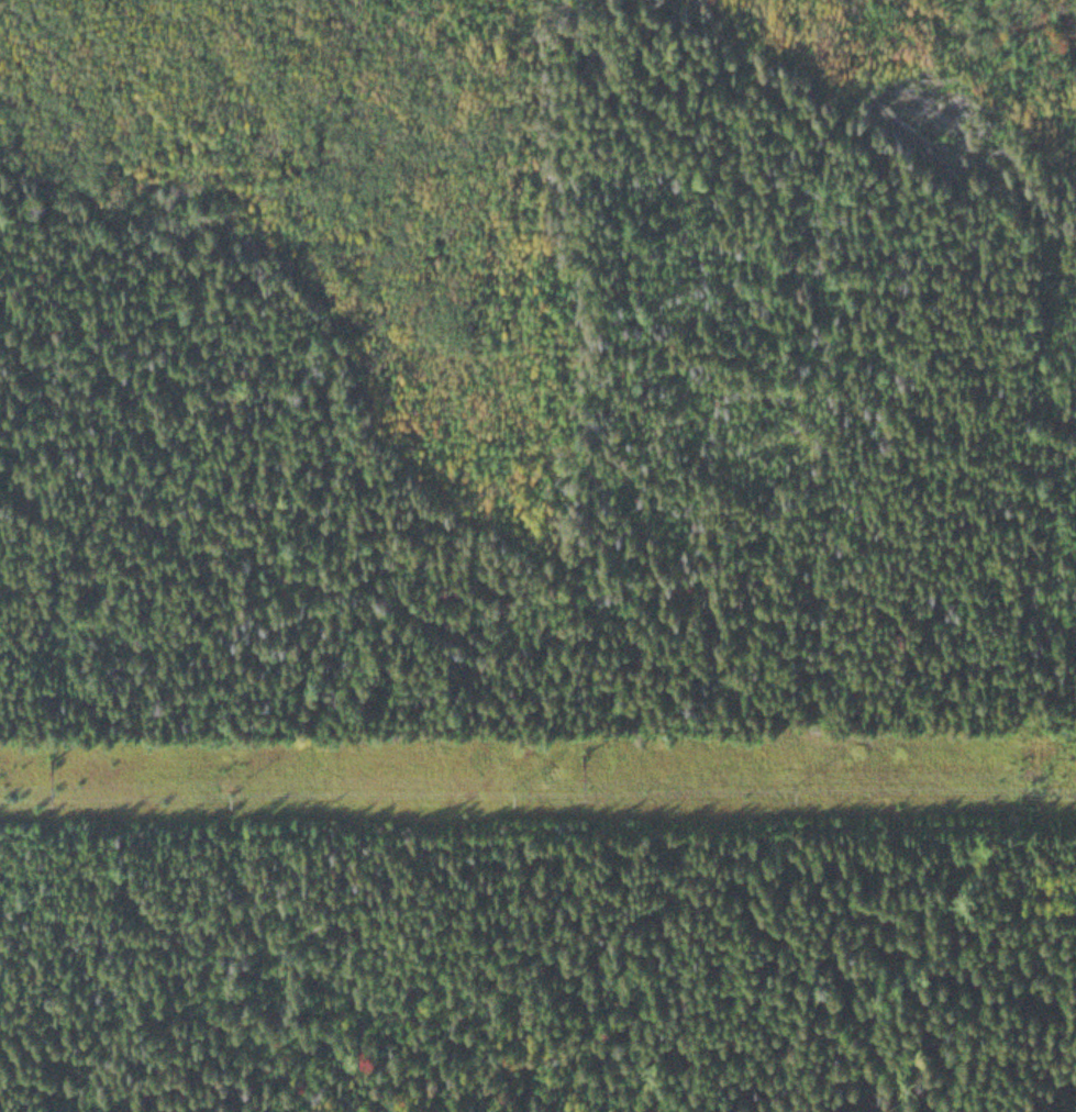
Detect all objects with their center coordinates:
road: (80, 209)
road: (396, 699)
power tower: (576, 743)
power tower: (38, 748)

